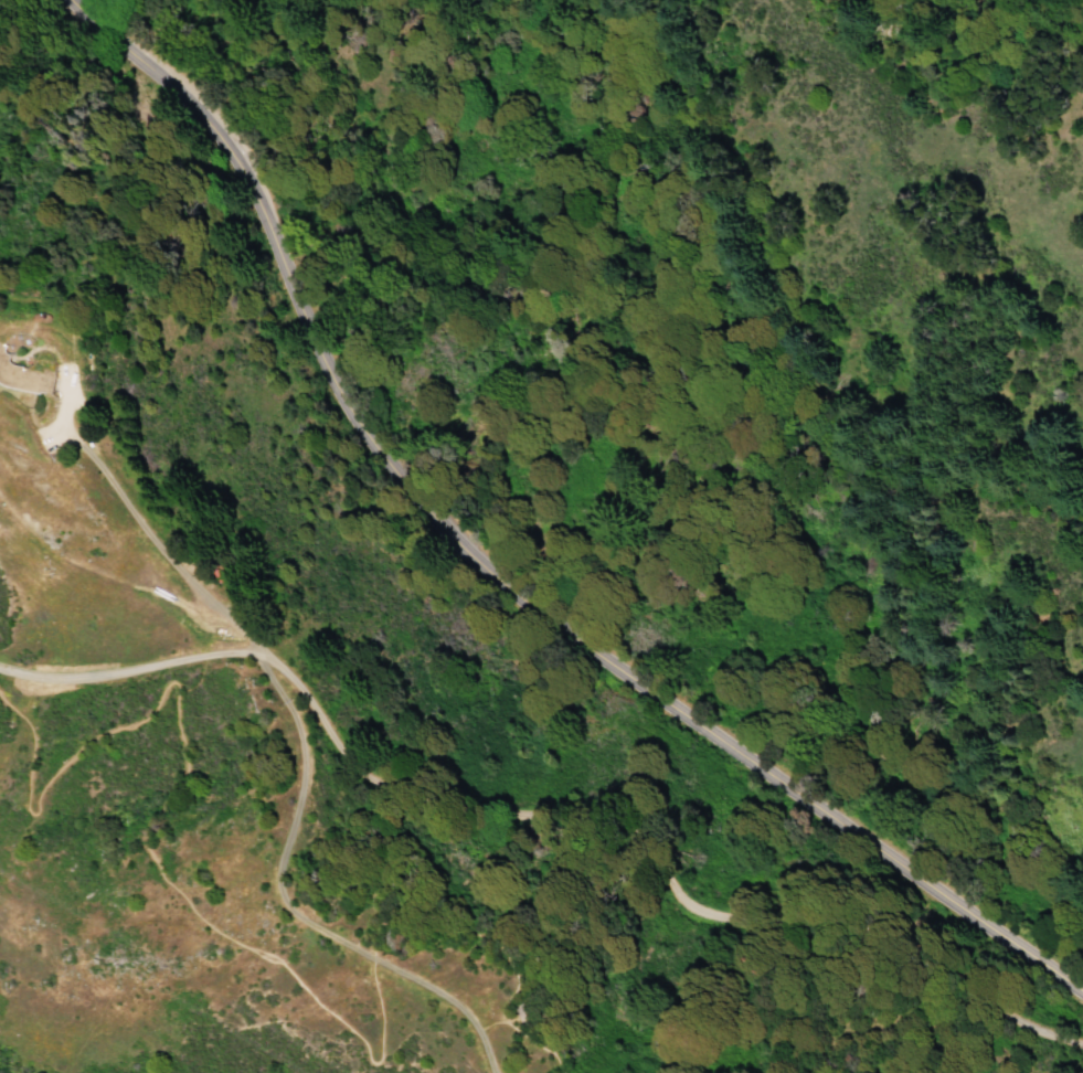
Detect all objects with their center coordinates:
road: (115, 534)
road: (492, 575)
road: (96, 578)
road: (531, 833)
road: (278, 911)
road: (211, 929)

